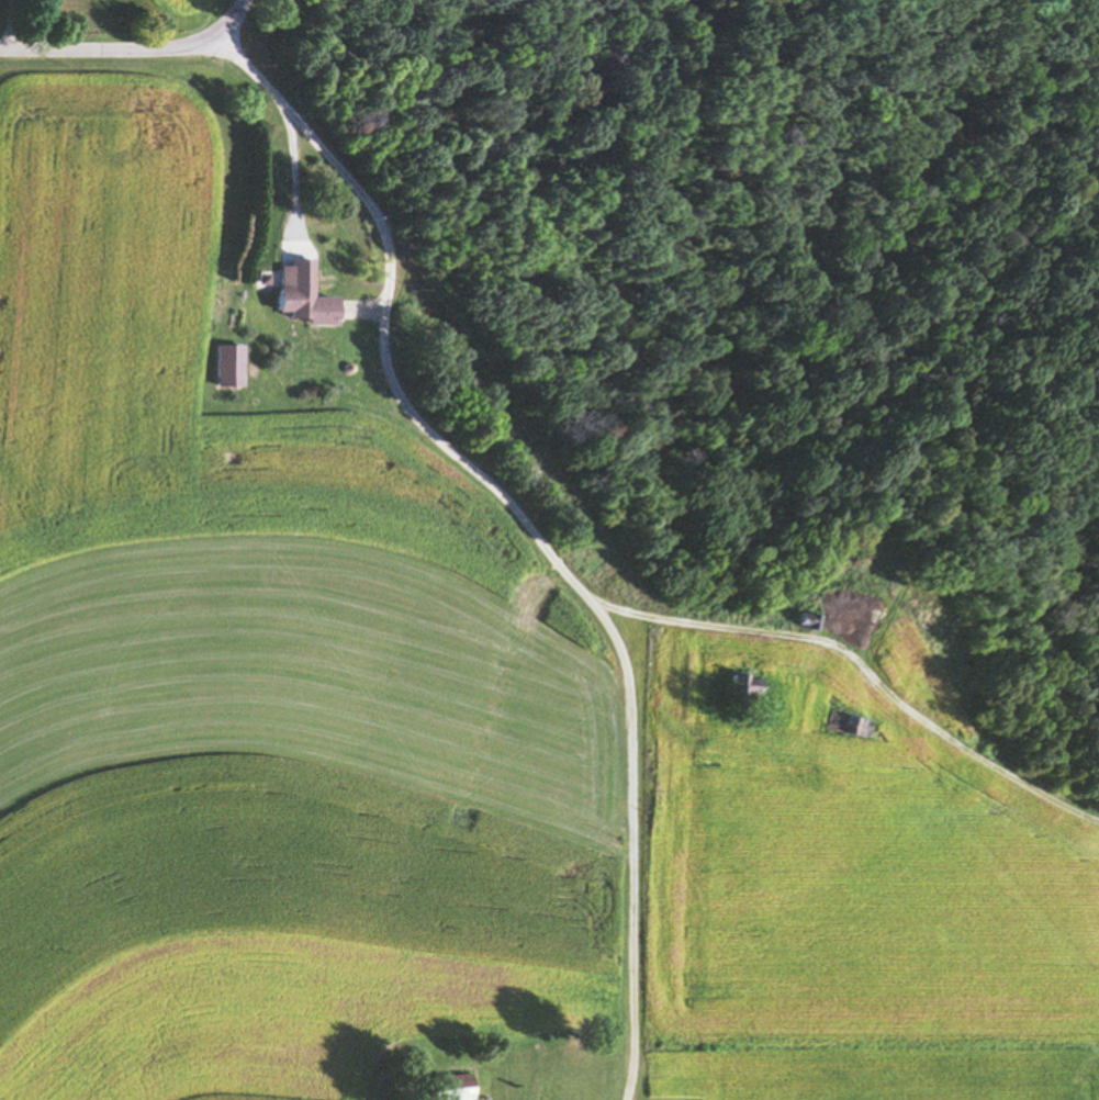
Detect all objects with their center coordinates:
road: (11, 25)
road: (130, 53)
road: (293, 178)
building: (260, 280)
building: (304, 294)
building: (229, 367)
road: (525, 524)
building: (807, 621)
road: (861, 671)
building: (742, 692)
building: (848, 727)
building: (456, 1087)

